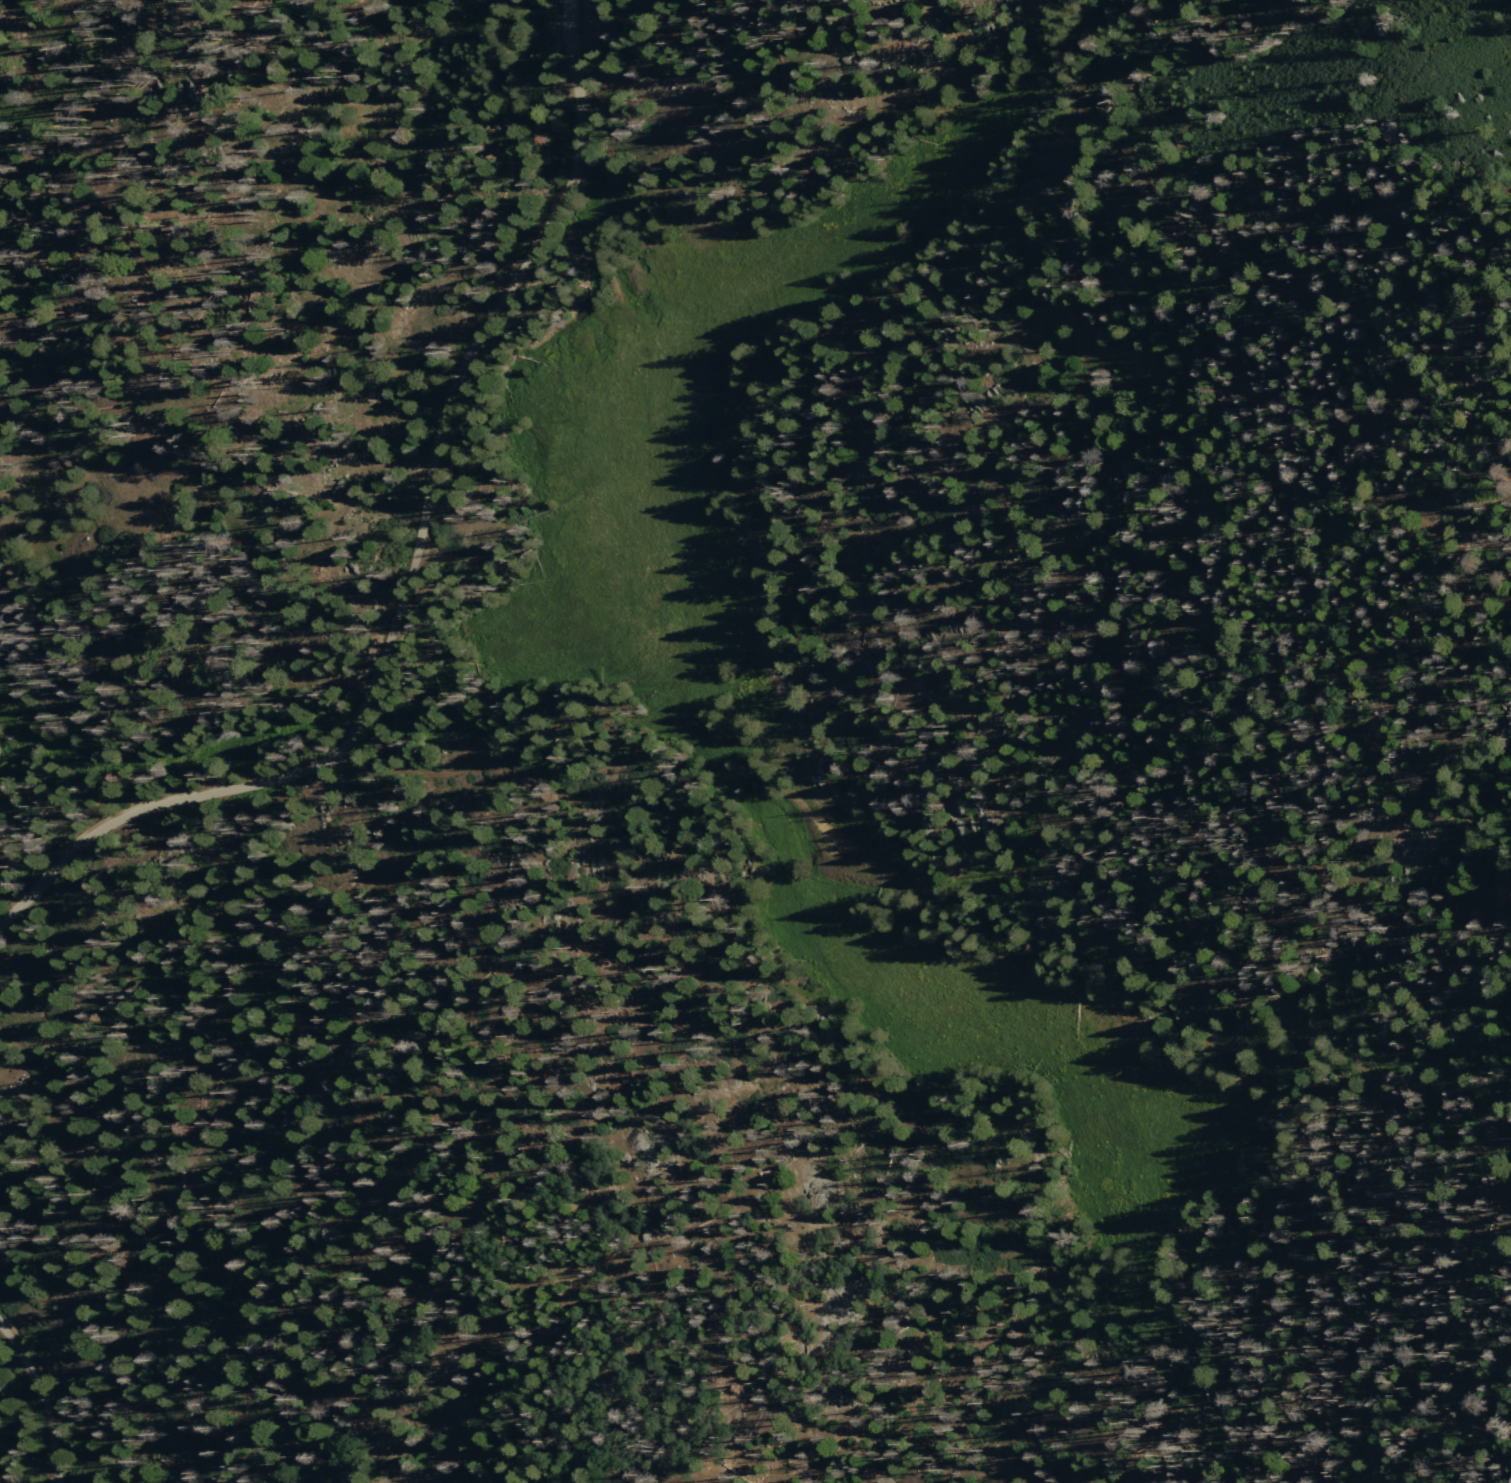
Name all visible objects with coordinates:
road: (409, 559)
road: (40, 1395)

